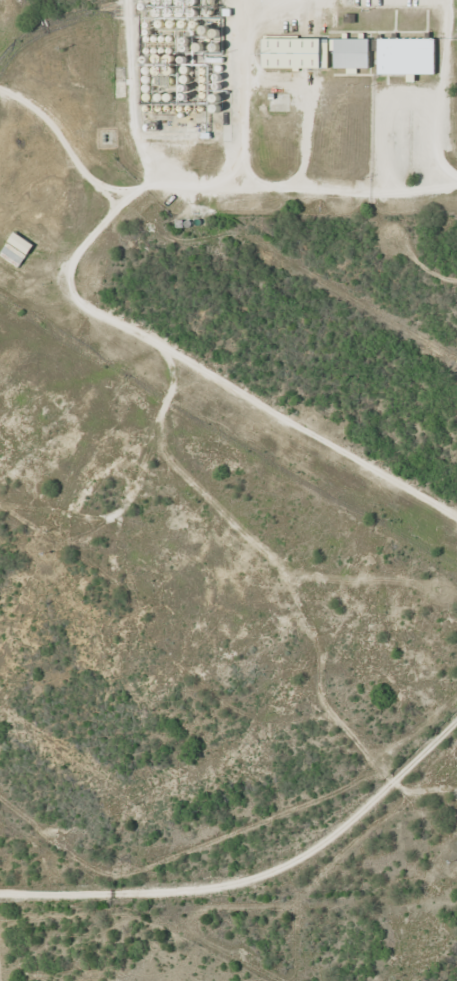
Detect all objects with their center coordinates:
building: (296, 52)
building: (352, 52)
building: (407, 55)
building: (16, 249)
road: (257, 864)

